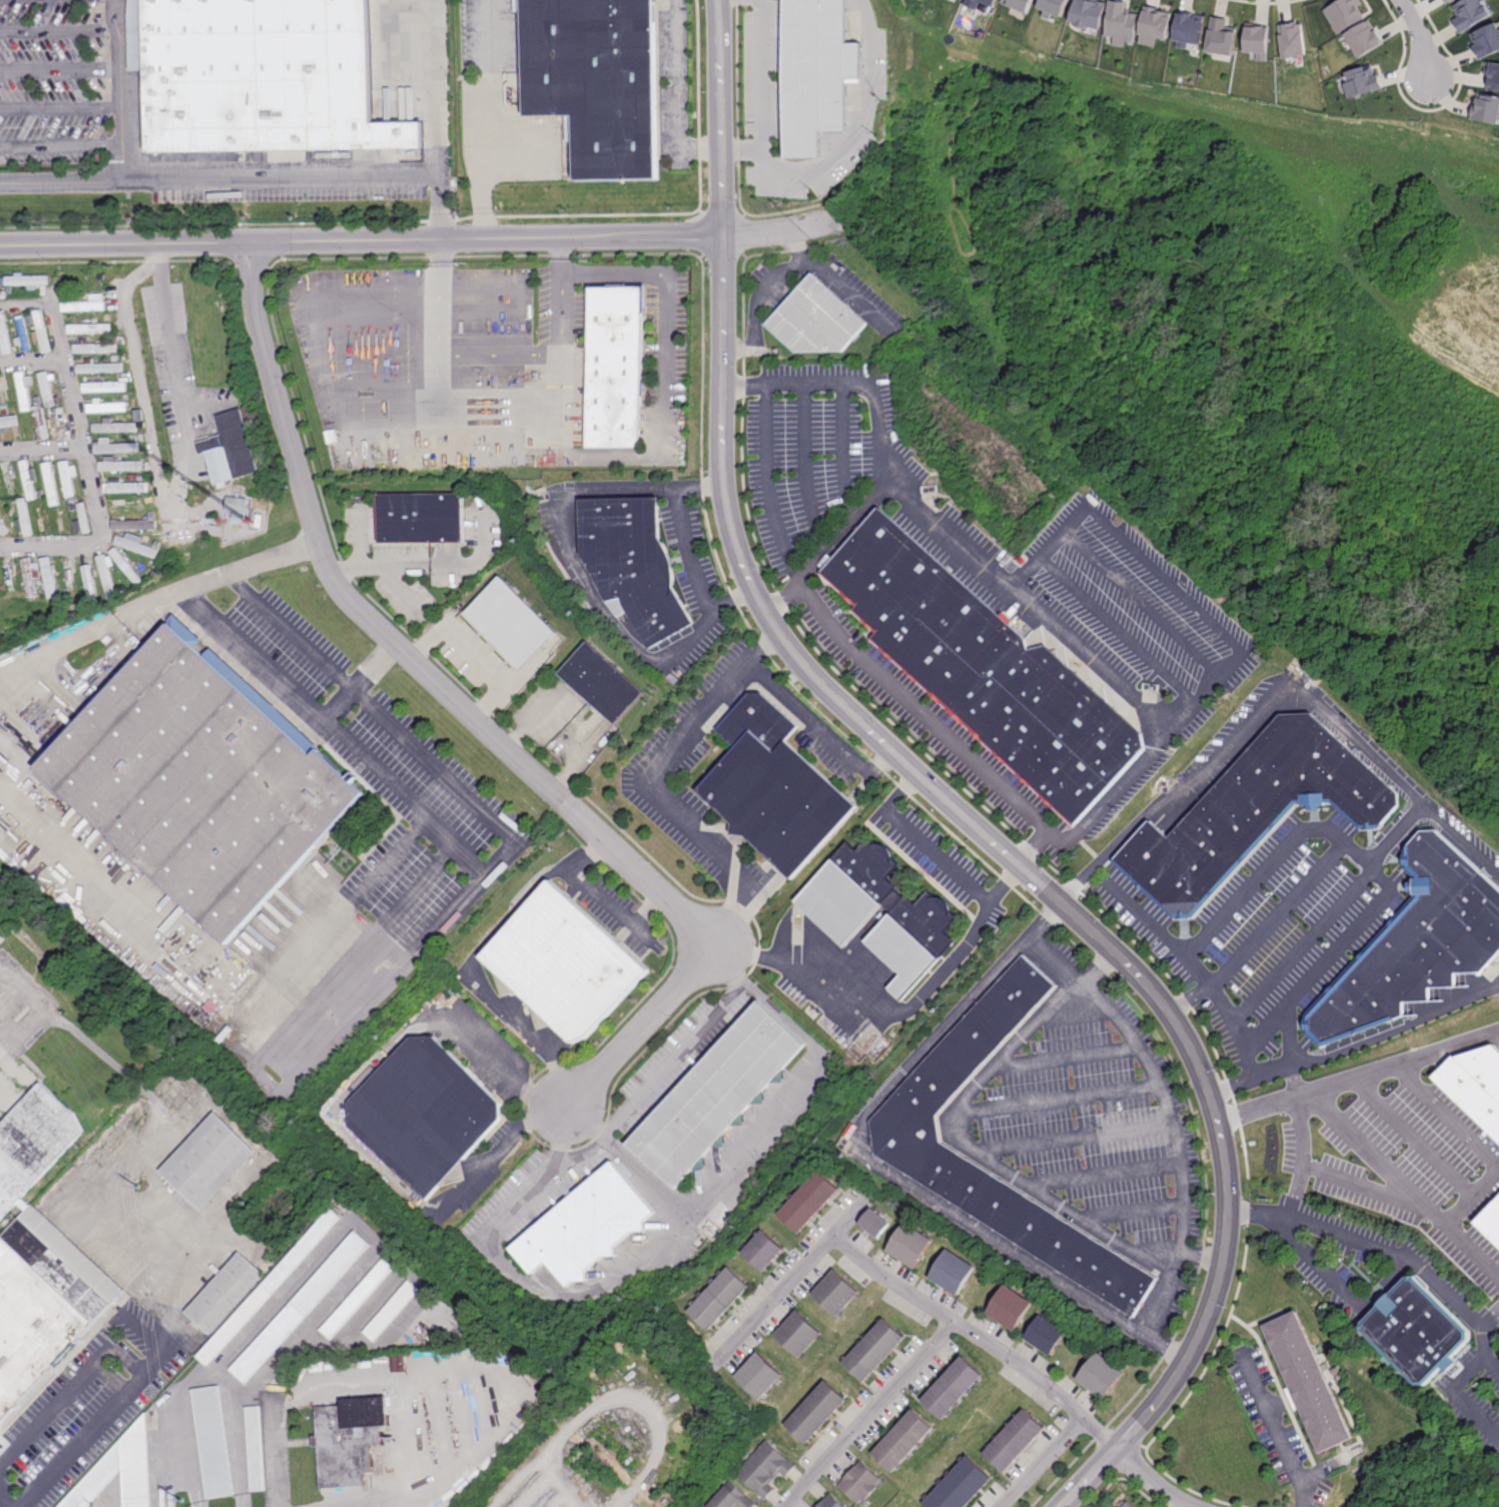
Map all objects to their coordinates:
building: (1448, 1)
building: (980, 4)
building: (1018, 4)
building: (1052, 7)
building: (1472, 13)
building: (1088, 14)
building: (1343, 14)
building: (1121, 25)
building: (1153, 27)
building: (1186, 29)
road: (59, 32)
building: (1220, 37)
road: (1422, 37)
building: (1364, 39)
building: (1257, 40)
building: (1292, 40)
building: (1486, 40)
road: (61, 71)
building: (815, 72)
building: (1493, 76)
building: (262, 78)
building: (595, 82)
building: (1362, 82)
road: (672, 99)
road: (61, 109)
building: (1487, 109)
road: (486, 121)
road: (122, 135)
road: (743, 153)
road: (122, 165)
road: (802, 175)
road: (251, 179)
road: (943, 215)
road: (1302, 231)
road: (418, 241)
building: (28, 279)
road: (761, 293)
road: (848, 293)
building: (2, 294)
building: (94, 295)
building: (84, 305)
building: (108, 316)
building: (28, 317)
building: (816, 319)
building: (89, 327)
building: (43, 331)
building: (4, 334)
building: (23, 334)
building: (119, 339)
building: (96, 348)
building: (115, 357)
road: (443, 357)
road: (32, 359)
building: (616, 366)
building: (99, 367)
park: (1244, 373)
building: (119, 377)
building: (47, 387)
building: (105, 387)
building: (2, 390)
building: (126, 397)
building: (107, 407)
building: (139, 415)
building: (40, 422)
building: (7, 423)
building: (114, 427)
building: (140, 437)
road: (82, 447)
building: (114, 447)
building: (228, 448)
road: (41, 449)
road: (1310, 454)
road: (652, 457)
building: (142, 458)
building: (124, 466)
building: (68, 477)
building: (135, 478)
building: (8, 480)
building: (28, 480)
building: (50, 485)
building: (124, 486)
building: (21, 494)
building: (74, 499)
building: (130, 505)
building: (236, 507)
road: (174, 508)
building: (421, 516)
building: (152, 517)
building: (6, 518)
building: (25, 518)
building: (85, 518)
building: (259, 520)
building: (137, 525)
road: (940, 529)
road: (360, 538)
road: (836, 546)
building: (137, 548)
road: (691, 553)
road: (272, 556)
building: (634, 563)
road: (432, 565)
building: (127, 566)
building: (31, 575)
building: (107, 576)
building: (50, 577)
building: (70, 582)
building: (91, 583)
road: (401, 587)
building: (4, 588)
building: (75, 607)
building: (77, 613)
parking lot: (981, 614)
building: (511, 623)
road: (1216, 625)
road: (84, 632)
road: (845, 642)
road: (473, 657)
building: (985, 669)
road: (358, 682)
building: (602, 685)
road: (1274, 700)
road: (806, 716)
road: (475, 718)
road: (334, 731)
building: (199, 781)
road: (646, 781)
building: (772, 788)
road: (942, 797)
road: (474, 798)
building: (1255, 813)
road: (1042, 837)
road: (938, 856)
road: (1258, 876)
road: (1300, 892)
road: (357, 896)
building: (920, 925)
road: (140, 930)
building: (1416, 944)
road: (1305, 945)
road: (1331, 957)
building: (564, 964)
road: (1101, 968)
road: (1196, 972)
road: (874, 1010)
road: (1291, 1036)
road: (1358, 1047)
road: (1398, 1063)
building: (56, 1077)
building: (1475, 1085)
building: (719, 1094)
road: (1273, 1104)
building: (424, 1112)
road: (1171, 1113)
building: (904, 1129)
parking lot: (1053, 1137)
building: (33, 1143)
road: (1471, 1144)
road: (564, 1148)
road: (976, 1149)
road: (1372, 1151)
road: (628, 1157)
building: (207, 1162)
road: (889, 1169)
power tower: (141, 1181)
road: (1295, 1191)
road: (1380, 1194)
building: (812, 1201)
building: (1490, 1219)
building: (875, 1224)
building: (585, 1226)
building: (907, 1244)
road: (1383, 1247)
building: (765, 1252)
road: (1202, 1256)
building: (952, 1273)
road: (596, 1285)
building: (268, 1286)
road: (1340, 1287)
building: (222, 1293)
building: (836, 1294)
building: (357, 1299)
building: (720, 1299)
building: (43, 1307)
building: (299, 1308)
building: (1009, 1308)
building: (391, 1311)
road: (1490, 1317)
road: (953, 1321)
building: (1416, 1331)
building: (801, 1335)
building: (1045, 1335)
building: (872, 1351)
road: (1492, 1363)
building: (1335, 1371)
road: (137, 1374)
building: (761, 1377)
building: (1100, 1377)
building: (1307, 1383)
building: (277, 1385)
building: (951, 1389)
road: (1461, 1394)
building: (165, 1398)
road: (514, 1405)
building: (816, 1413)
road: (870, 1414)
road: (416, 1429)
road: (1280, 1432)
building: (347, 1440)
building: (132, 1442)
building: (901, 1442)
building: (1013, 1442)
building: (211, 1443)
building: (254, 1449)
road: (273, 1454)
road: (1045, 1463)
building: (766, 1469)
building: (858, 1483)
building: (959, 1487)
building: (169, 1494)
power tower: (186, 1494)
building: (732, 1498)
building: (829, 1503)
building: (667, 1504)
building: (1128, 1505)

